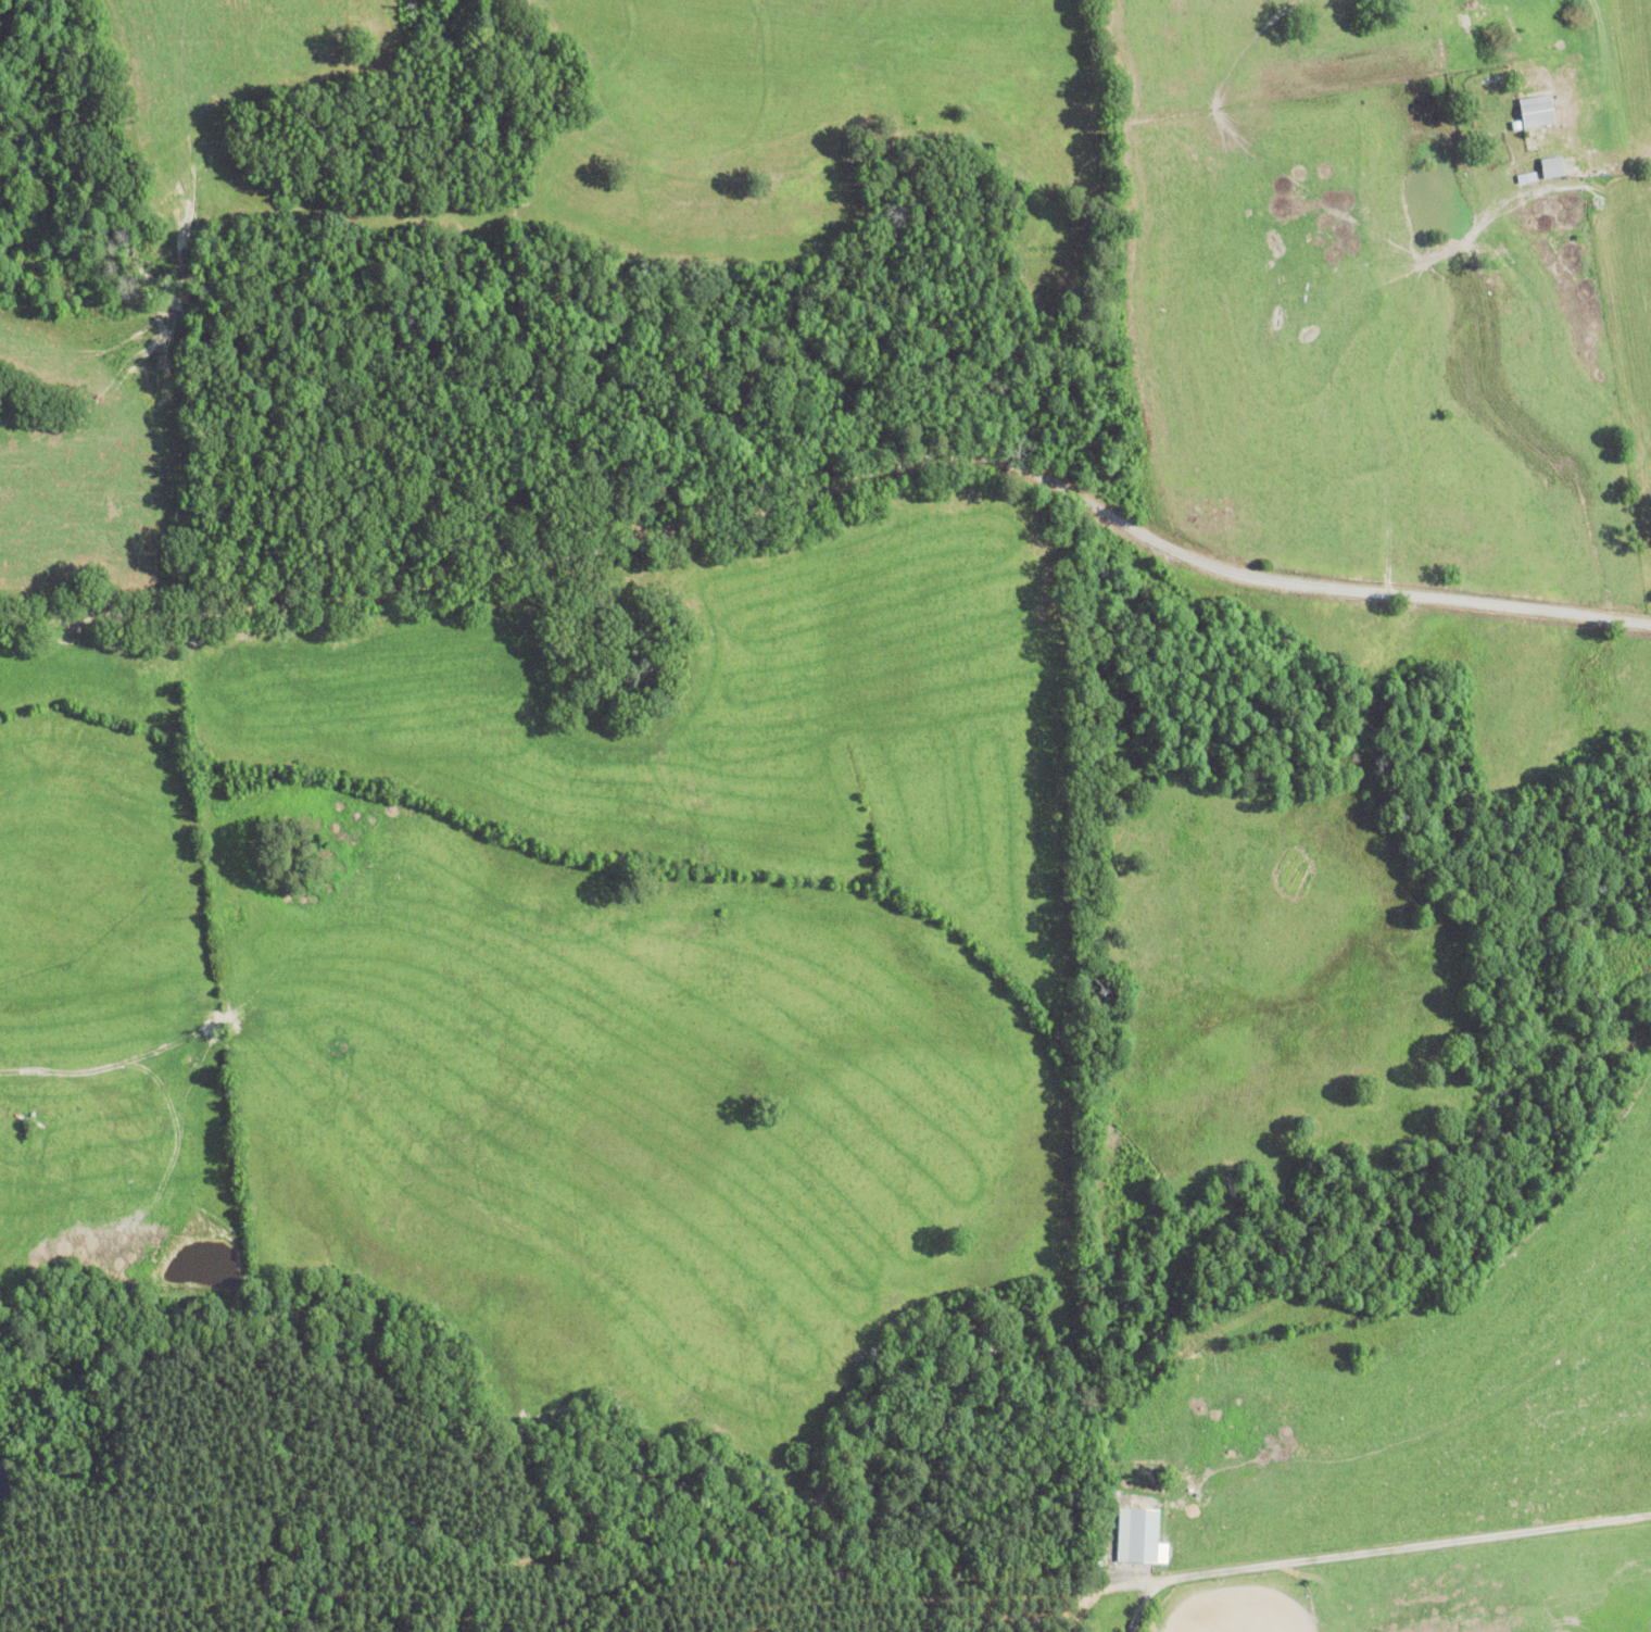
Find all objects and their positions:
building: (1529, 76)
building: (1535, 111)
building: (1550, 166)
road: (835, 486)

